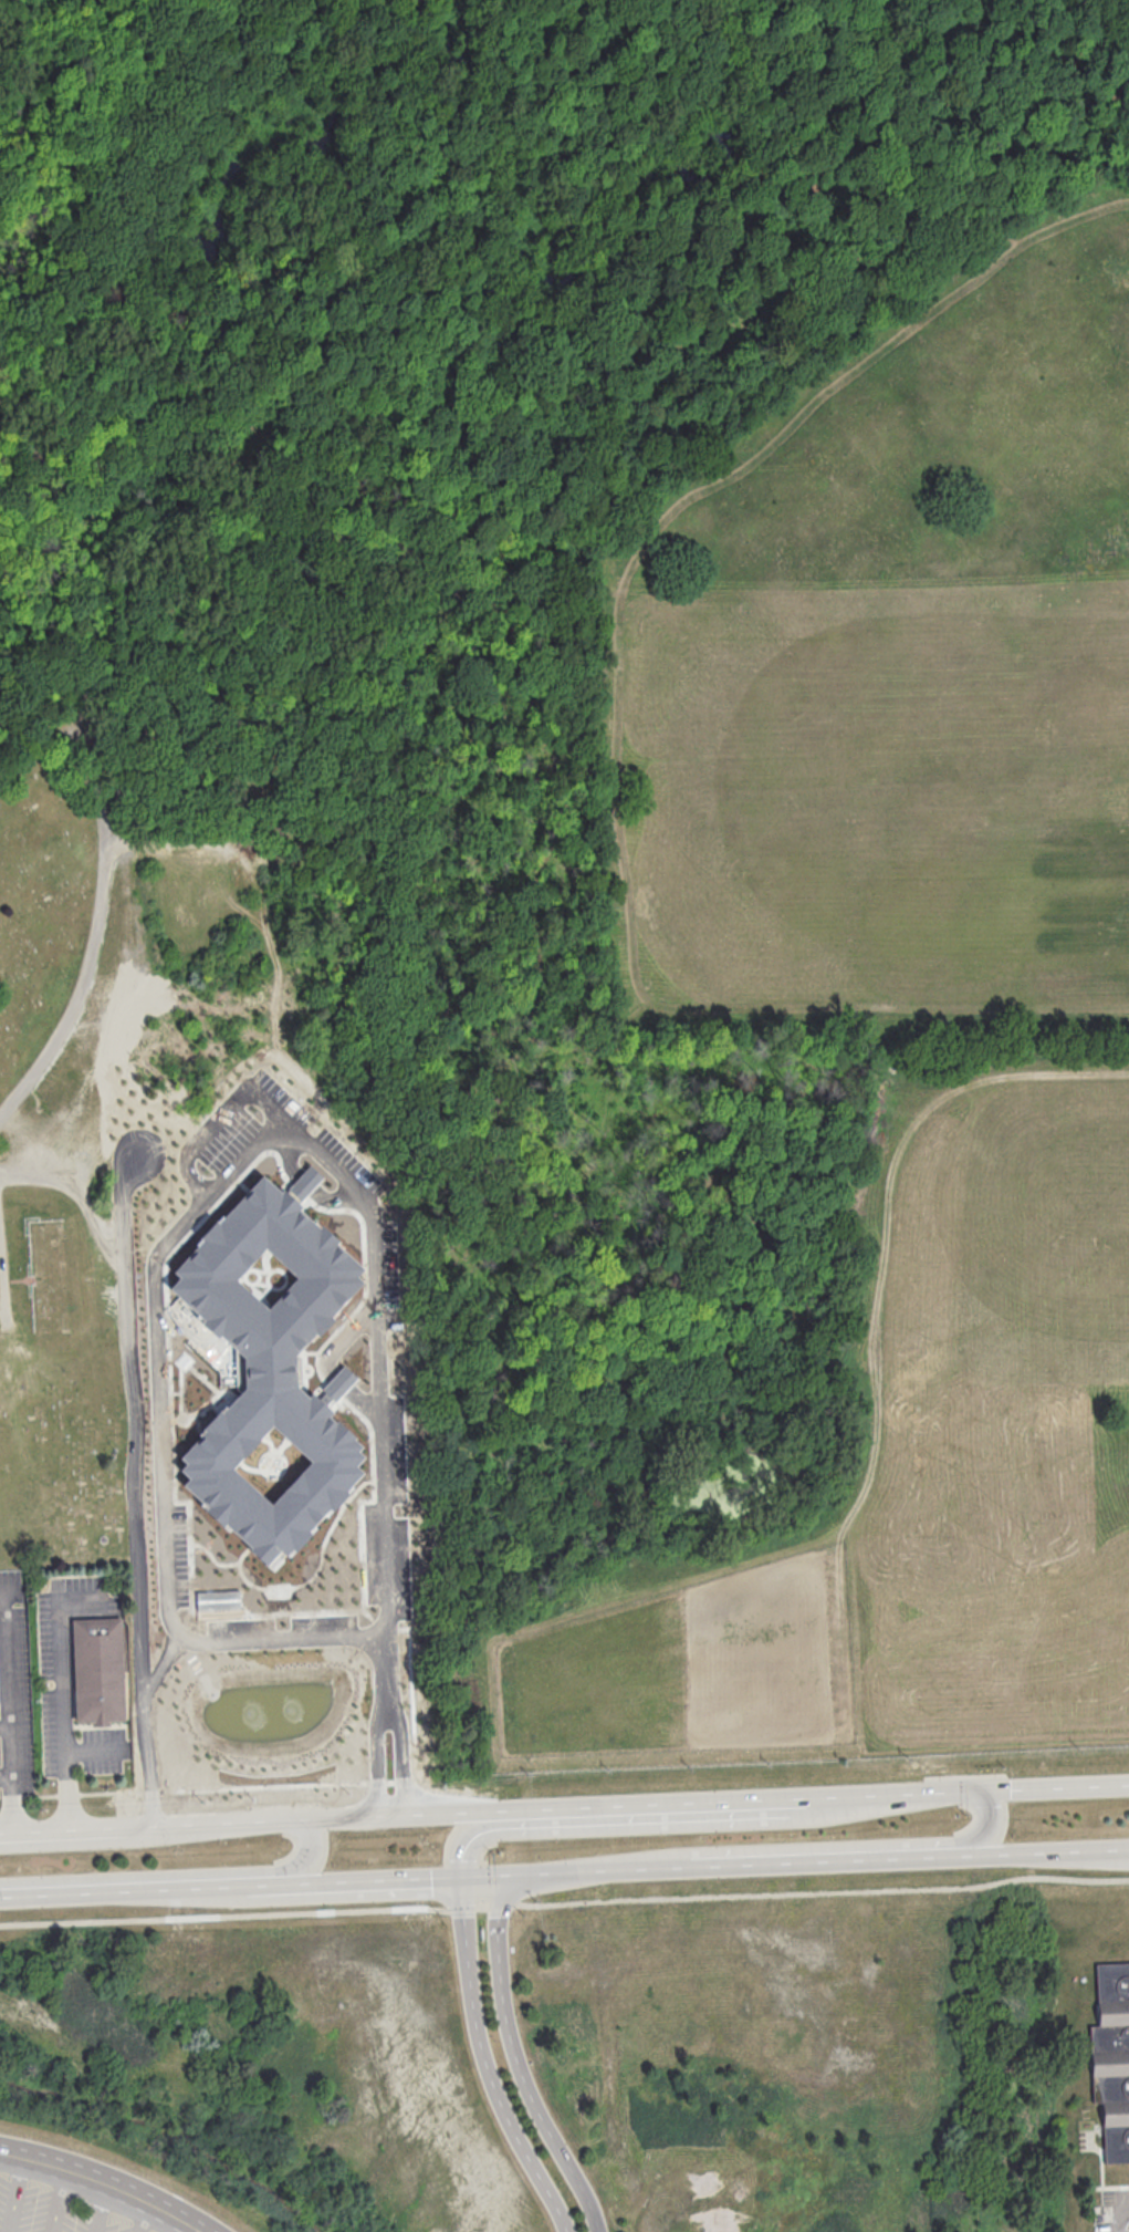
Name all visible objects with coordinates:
road: (784, 82)
road: (964, 146)
road: (987, 198)
road: (850, 371)
road: (530, 382)
park: (200, 799)
road: (238, 809)
road: (179, 843)
crop: (765, 865)
road: (102, 887)
road: (680, 1006)
road: (1, 1304)
road: (157, 1332)
building: (268, 1374)
road: (383, 1400)
road: (138, 1458)
building: (218, 1599)
road: (307, 1636)
road: (165, 1661)
building: (98, 1670)
road: (387, 1699)
road: (12, 1705)
road: (64, 1724)
road: (7, 1731)
road: (8, 1776)
road: (1016, 1784)
traffic signals: (986, 1786)
road: (605, 1802)
road: (229, 1818)
road: (662, 1819)
road: (74, 1824)
road: (76, 1840)
road: (823, 1845)
road: (875, 1865)
road: (176, 1873)
road: (541, 1879)
traffic signals: (495, 1881)
traffic signals: (461, 1882)
road: (230, 1891)
road: (564, 1902)
road: (498, 1945)
building: (1112, 2058)
road: (487, 2065)
road: (544, 2122)
road: (107, 2182)
road: (15, 2194)
road: (60, 2200)
road: (98, 2207)
parking lot: (54, 2211)
road: (1122, 2211)
road: (142, 2214)
parking lot: (1111, 2218)
road: (1117, 2222)
road: (181, 2224)

